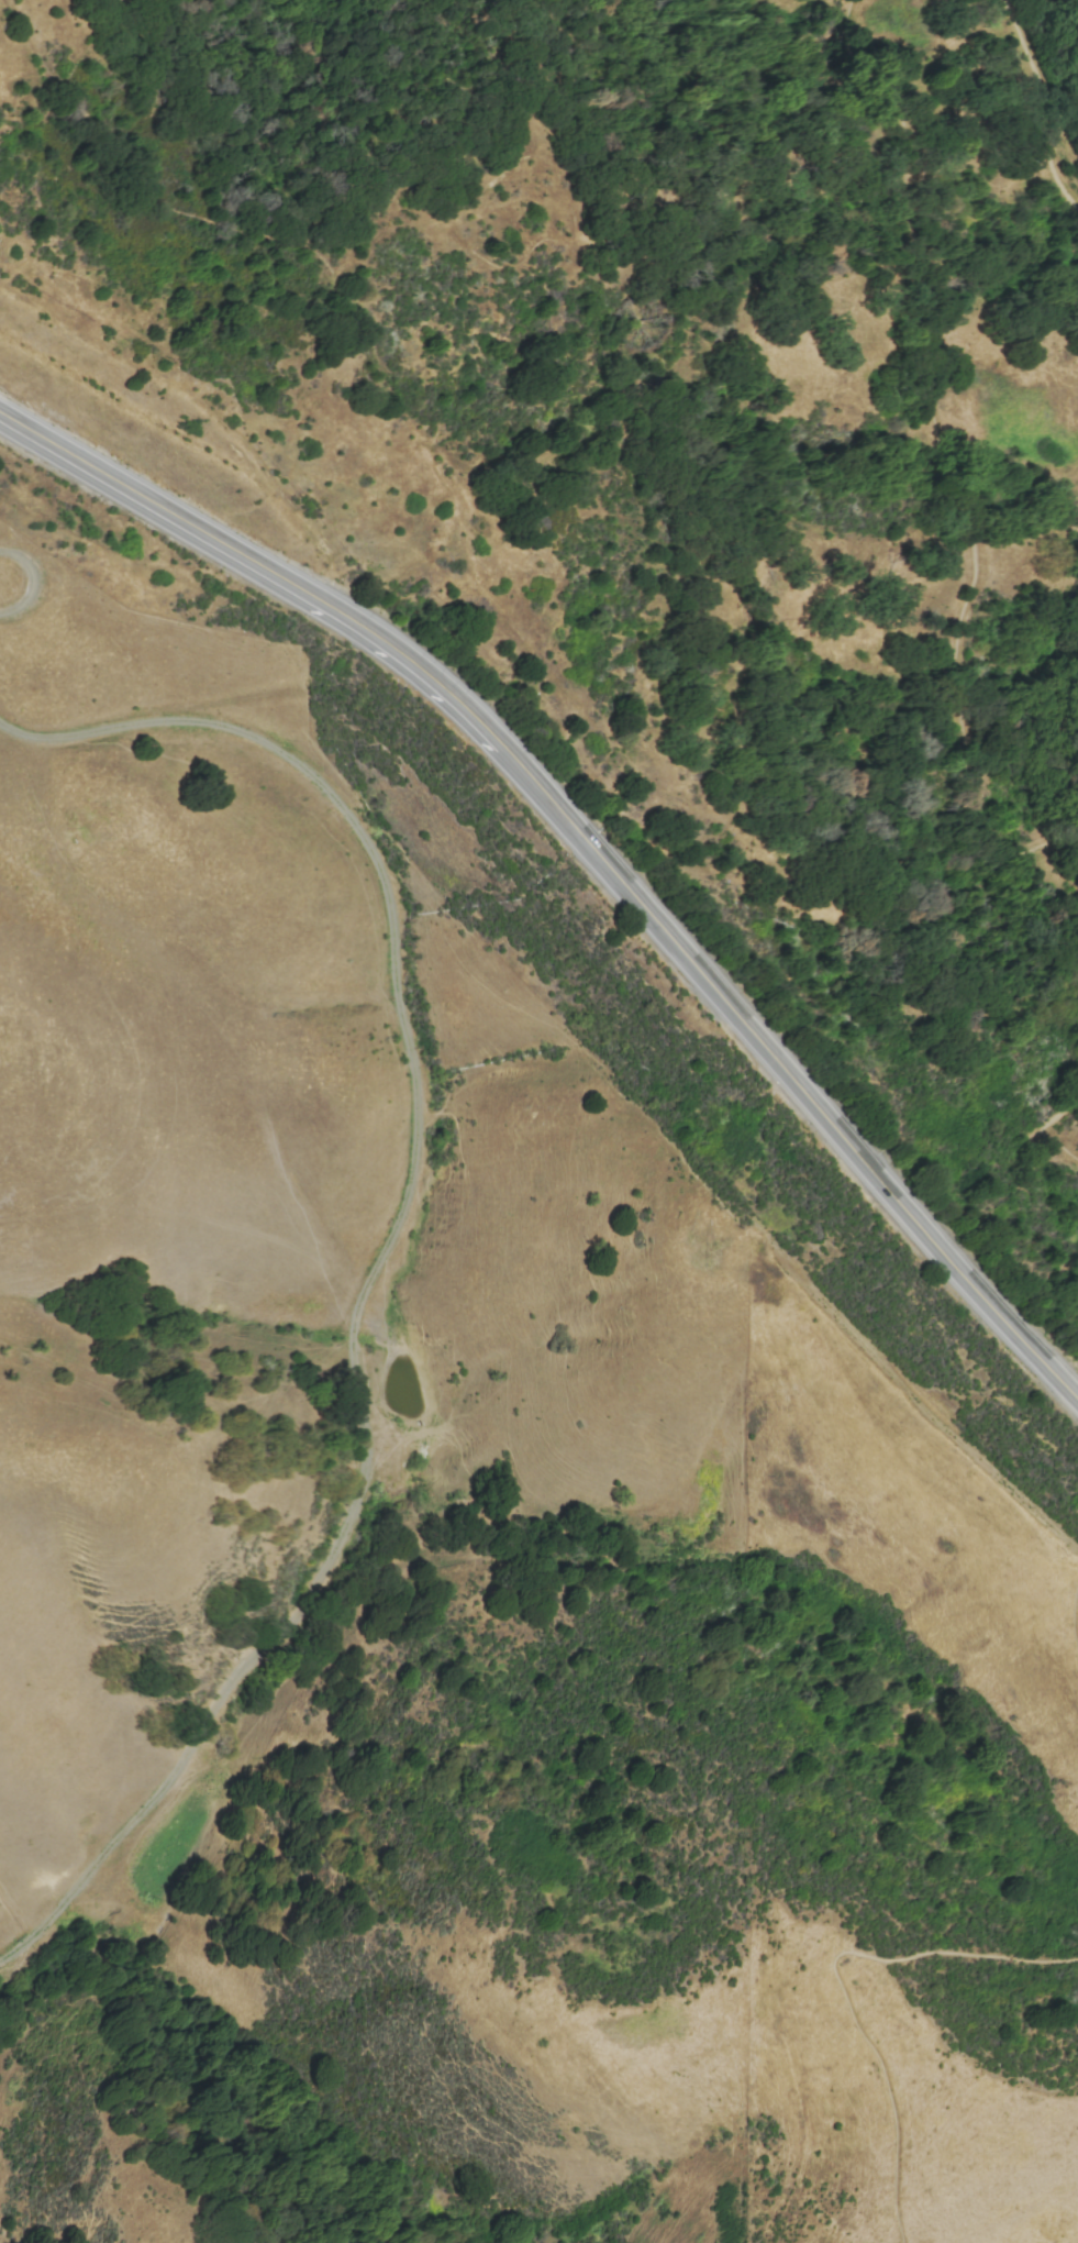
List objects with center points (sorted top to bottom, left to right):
park: (819, 3)
park: (915, 27)
road: (1044, 104)
road: (302, 244)
road: (952, 448)
road: (589, 844)
road: (1049, 1140)
road: (385, 1257)
road: (922, 1405)
road: (1074, 1617)
road: (838, 1981)

